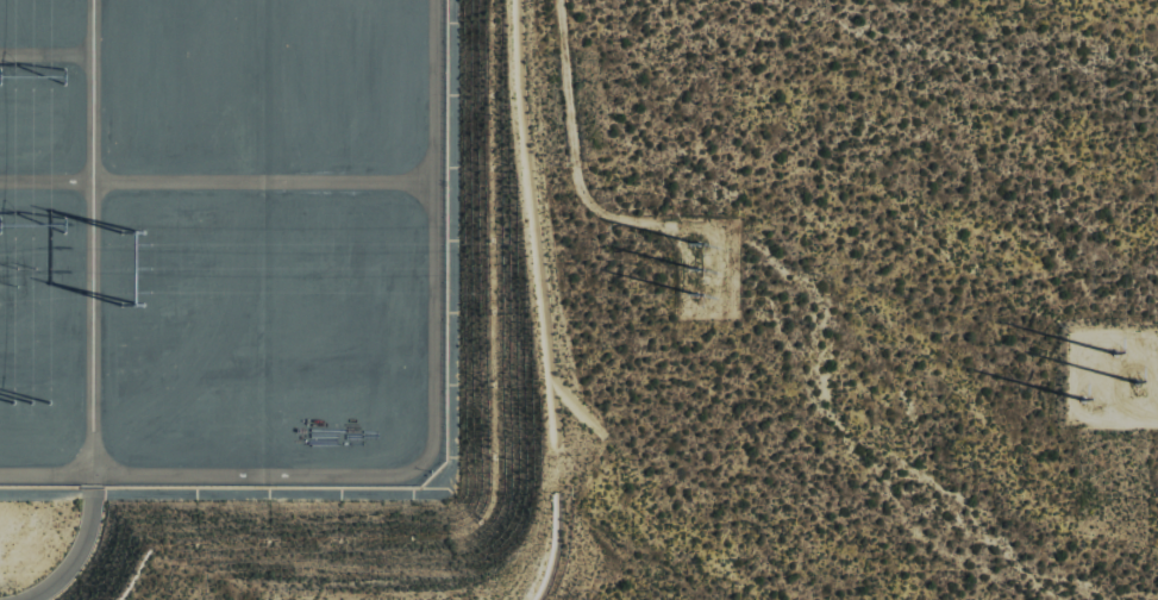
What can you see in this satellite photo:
power substation: (221, 242)
power tower: (140, 257)
power tower: (694, 260)
power tower: (1110, 373)
road: (71, 560)

